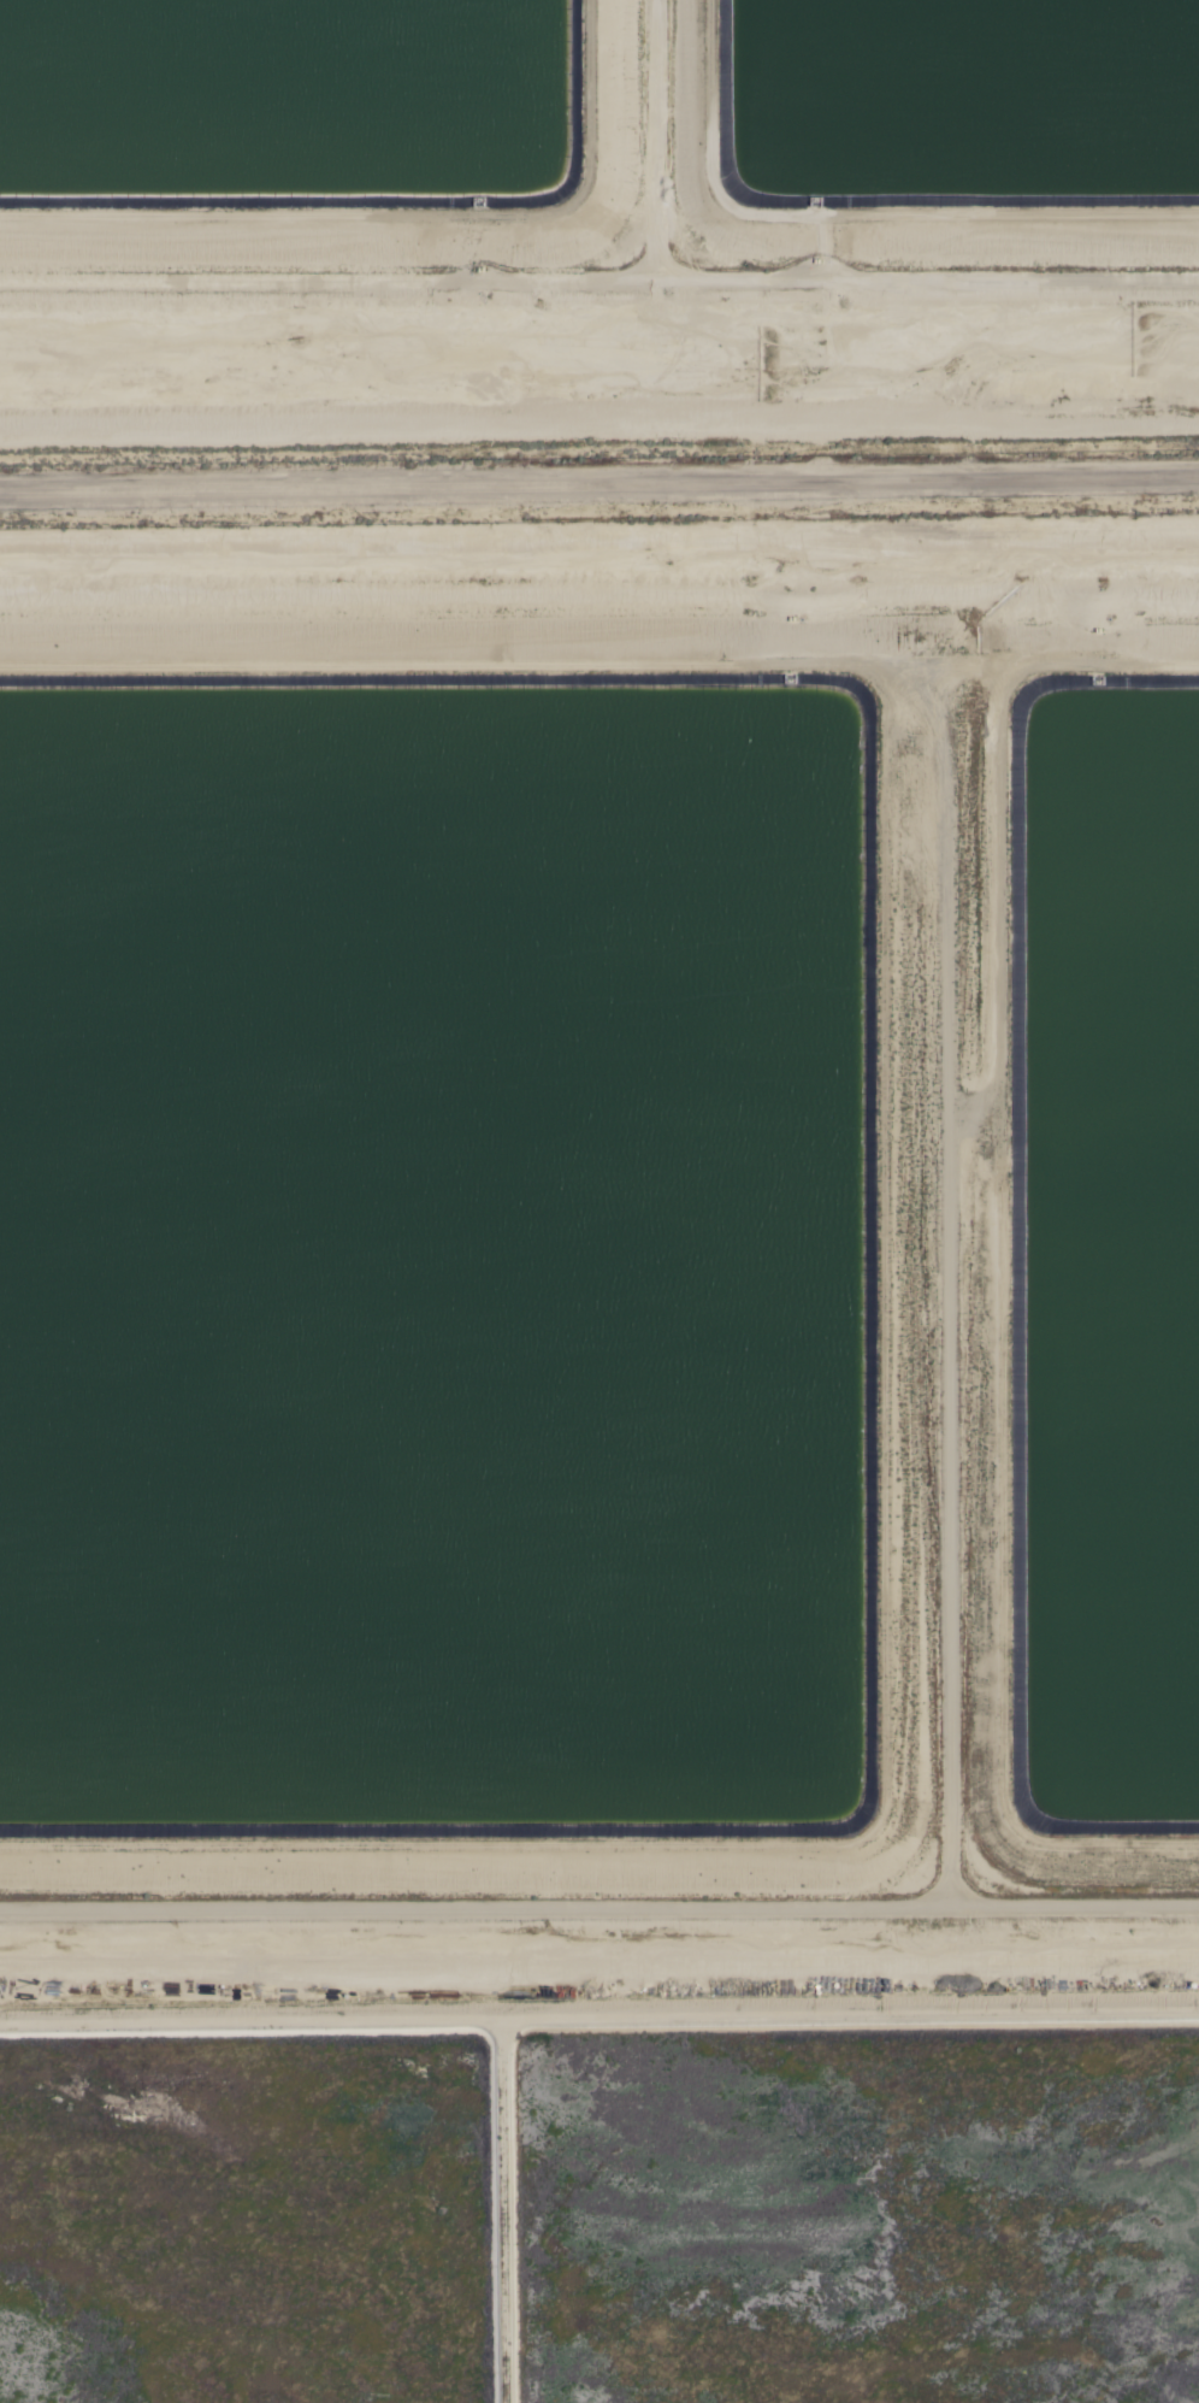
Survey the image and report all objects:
wastewater plant: (596, 220)
road: (599, 489)
road: (939, 1292)
wastewater plant: (599, 1460)
road: (598, 1908)

